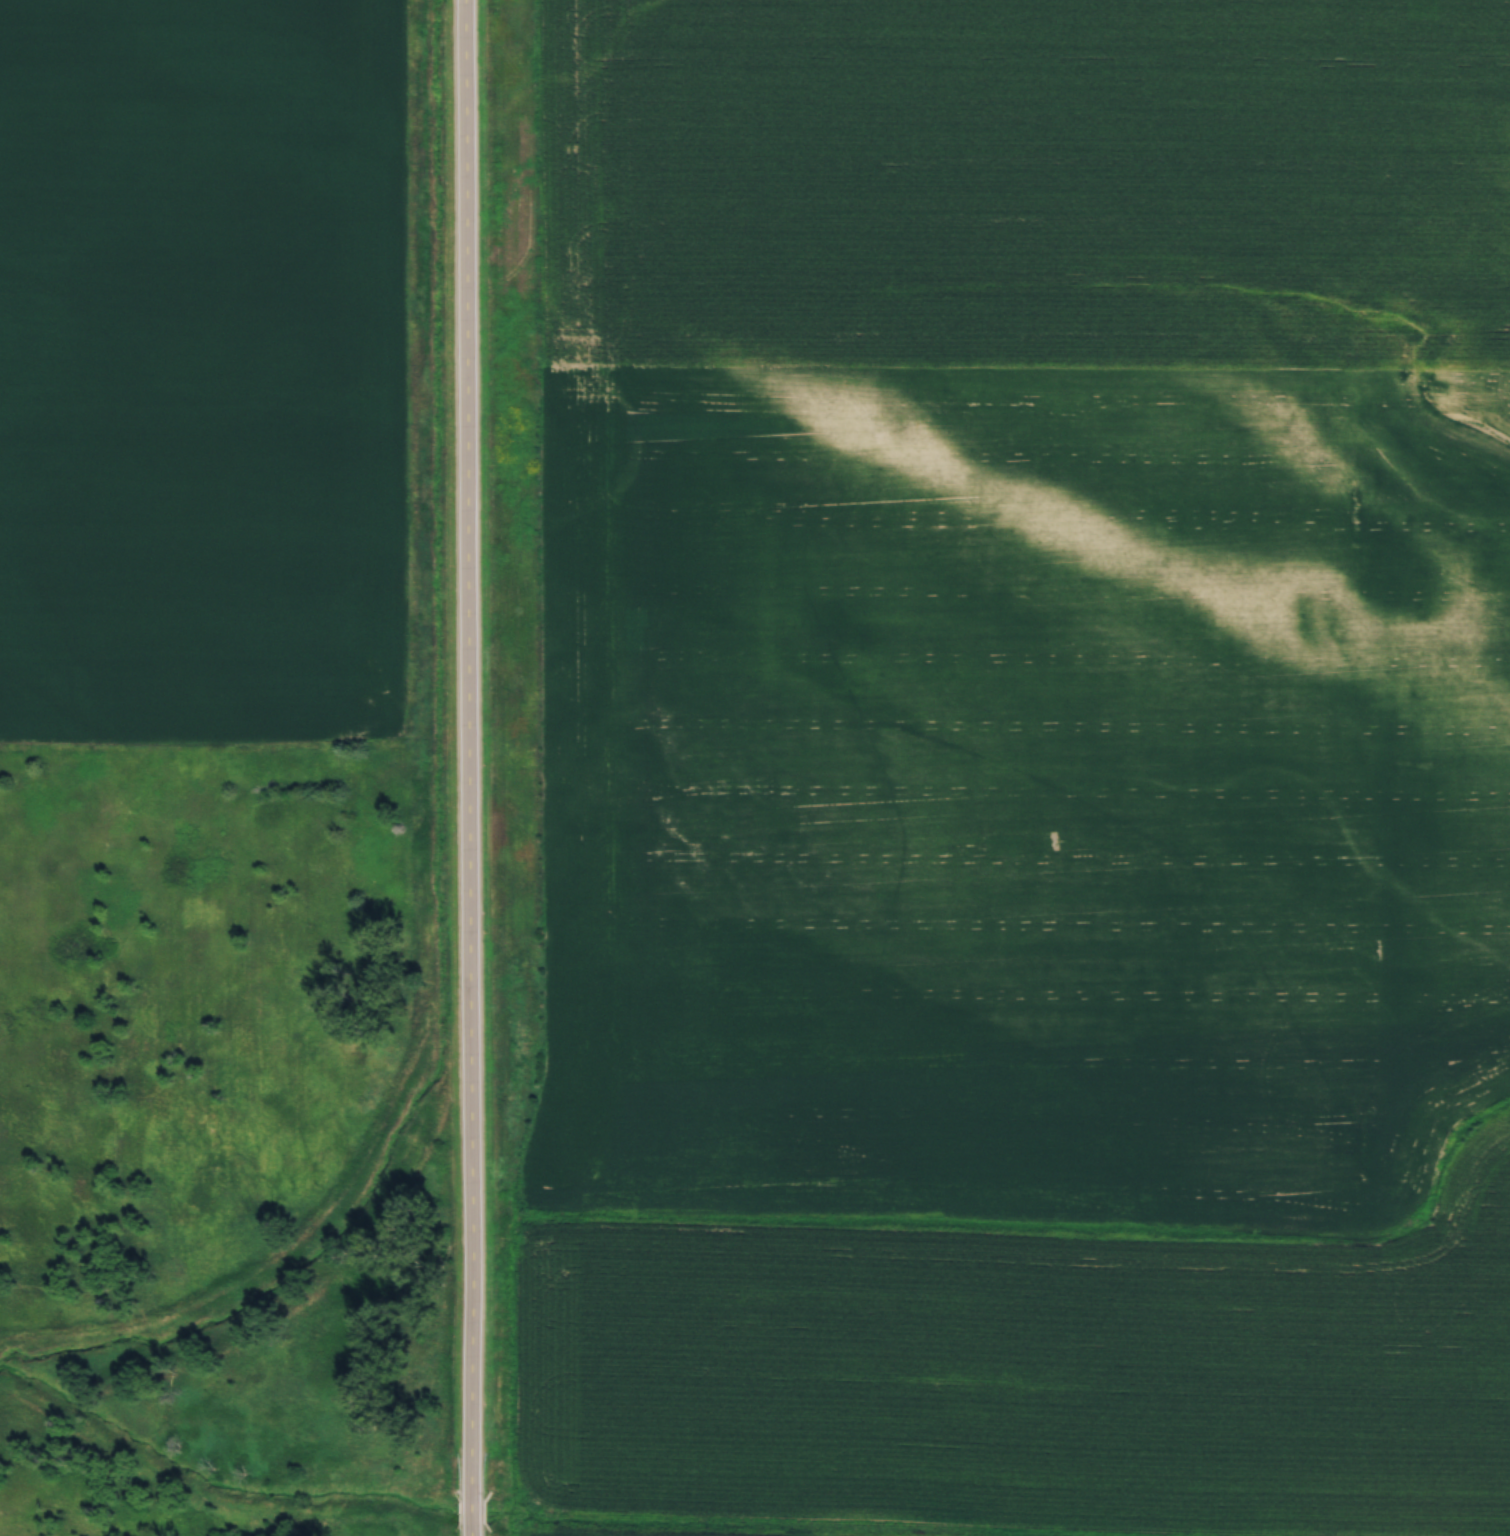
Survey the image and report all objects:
road: (474, 768)

